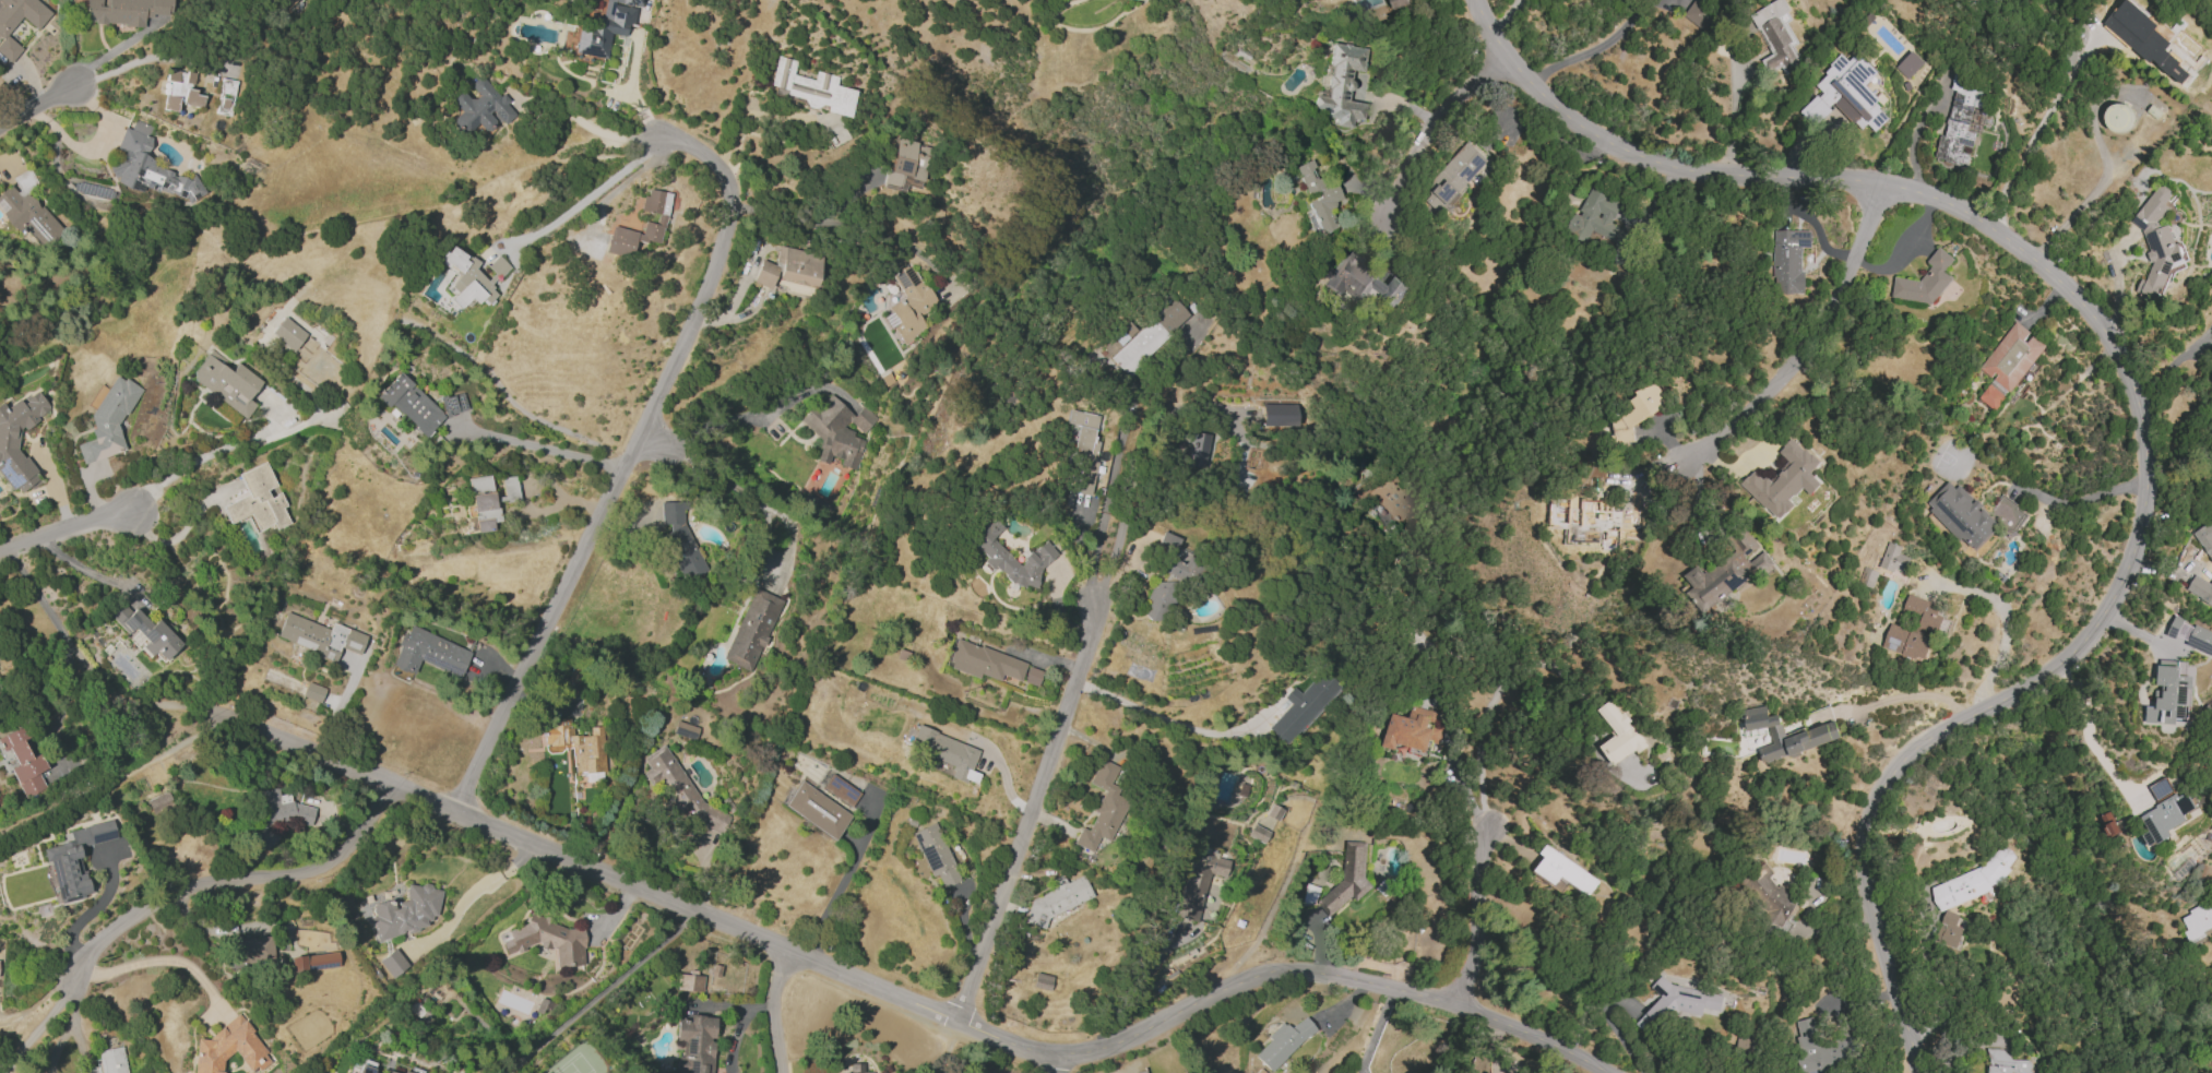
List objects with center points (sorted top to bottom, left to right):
building: (1352, 0)
building: (286, 3)
building: (1399, 3)
building: (123, 11)
building: (1700, 13)
building: (603, 27)
building: (3, 32)
building: (1775, 38)
road: (116, 47)
road: (1595, 48)
road: (136, 61)
building: (1908, 64)
building: (1342, 84)
building: (812, 87)
building: (180, 90)
building: (1846, 95)
building: (227, 96)
road: (38, 104)
building: (480, 107)
road: (1732, 114)
building: (2117, 117)
building: (1959, 121)
road: (585, 123)
road: (1436, 123)
road: (1913, 140)
road: (95, 144)
building: (906, 164)
building: (150, 168)
road: (587, 196)
building: (26, 207)
road: (804, 220)
building: (659, 222)
road: (324, 224)
building: (1602, 224)
building: (2157, 245)
road: (1904, 246)
building: (1788, 260)
building: (788, 267)
building: (472, 277)
building: (1361, 281)
building: (1925, 282)
building: (909, 305)
building: (1121, 332)
building: (287, 333)
building: (1146, 336)
road: (1813, 344)
building: (2009, 363)
building: (226, 383)
road: (2134, 390)
building: (453, 403)
building: (411, 405)
road: (273, 409)
building: (1634, 413)
building: (1277, 414)
building: (863, 419)
building: (108, 420)
building: (833, 432)
road: (540, 448)
building: (1199, 451)
building: (1081, 452)
road: (1116, 452)
road: (211, 454)
building: (12, 457)
road: (626, 461)
building: (1784, 480)
road: (538, 481)
building: (479, 482)
road: (52, 485)
building: (1387, 494)
building: (258, 500)
road: (2081, 500)
road: (760, 502)
building: (491, 504)
building: (1973, 515)
building: (1606, 521)
road: (66, 526)
building: (2204, 538)
building: (680, 541)
building: (988, 546)
road: (1081, 552)
building: (1167, 556)
building: (1894, 559)
road: (84, 570)
building: (1727, 572)
building: (1867, 577)
building: (2200, 589)
building: (1158, 600)
road: (2005, 621)
building: (752, 629)
building: (1915, 629)
building: (145, 631)
building: (2190, 635)
building: (320, 636)
building: (429, 653)
building: (982, 661)
road: (1519, 664)
road: (93, 668)
building: (1032, 676)
building: (571, 684)
building: (312, 692)
building: (2171, 694)
road: (1916, 695)
building: (1301, 706)
road: (1175, 722)
building: (683, 729)
building: (1413, 729)
building: (1619, 735)
building: (1816, 735)
road: (2086, 735)
building: (578, 744)
building: (946, 752)
road: (994, 754)
building: (23, 762)
road: (112, 774)
building: (678, 789)
building: (841, 790)
building: (158, 803)
building: (1103, 807)
building: (816, 810)
road: (1030, 811)
building: (2165, 812)
building: (276, 816)
building: (1258, 833)
building: (935, 855)
building: (74, 859)
building: (1562, 872)
road: (229, 877)
building: (1347, 879)
building: (1198, 882)
road: (842, 883)
building: (1971, 883)
road: (473, 892)
building: (1771, 895)
building: (1056, 899)
building: (405, 911)
road: (1477, 917)
building: (2198, 920)
building: (1949, 930)
building: (547, 940)
building: (252, 951)
road: (159, 959)
building: (313, 962)
building: (393, 963)
road: (1143, 979)
building: (1042, 981)
building: (689, 982)
road: (599, 992)
road: (911, 998)
building: (1678, 1003)
road: (772, 1010)
road: (69, 1025)
road: (38, 1027)
road: (740, 1028)
road: (1376, 1030)
building: (1282, 1042)
building: (695, 1044)
road: (946, 1045)
building: (1821, 1047)
building: (228, 1048)
building: (108, 1061)
road: (424, 1063)
building: (2008, 1063)
road: (1053, 1064)
building: (365, 1066)
building: (857, 1069)
building: (390, 1072)
building: (404, 1072)
building: (1486, 1072)

